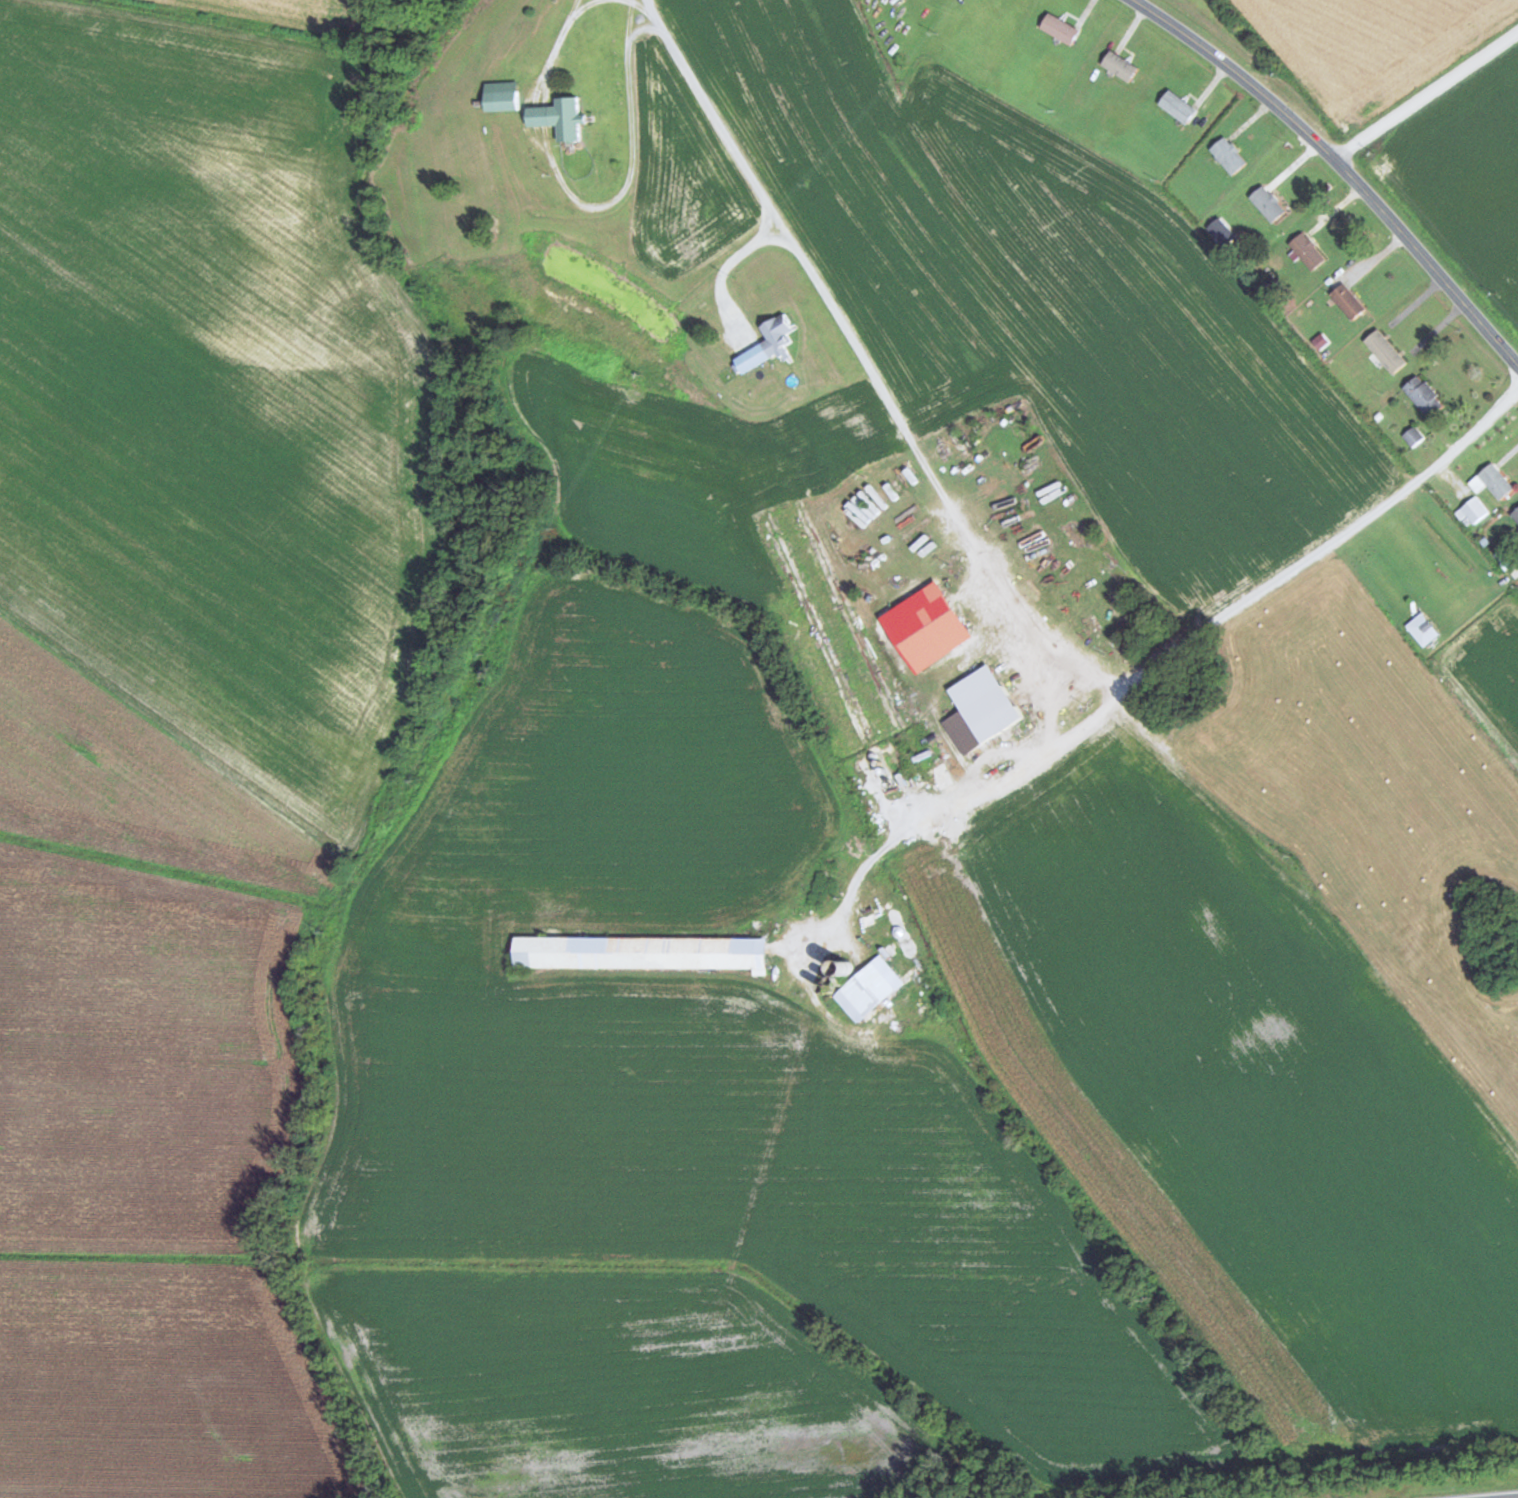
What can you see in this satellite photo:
building: (1062, 29)
building: (1121, 66)
building: (503, 96)
road: (1426, 96)
building: (1179, 107)
building: (561, 118)
building: (1230, 156)
road: (1342, 168)
building: (1269, 204)
building: (1222, 232)
building: (1308, 251)
building: (1349, 301)
building: (769, 343)
building: (1387, 351)
building: (1425, 396)
building: (1413, 436)
building: (1493, 481)
building: (1473, 510)
building: (1515, 514)
road: (1137, 675)
building: (982, 709)
building: (942, 774)
building: (644, 951)
building: (871, 989)

